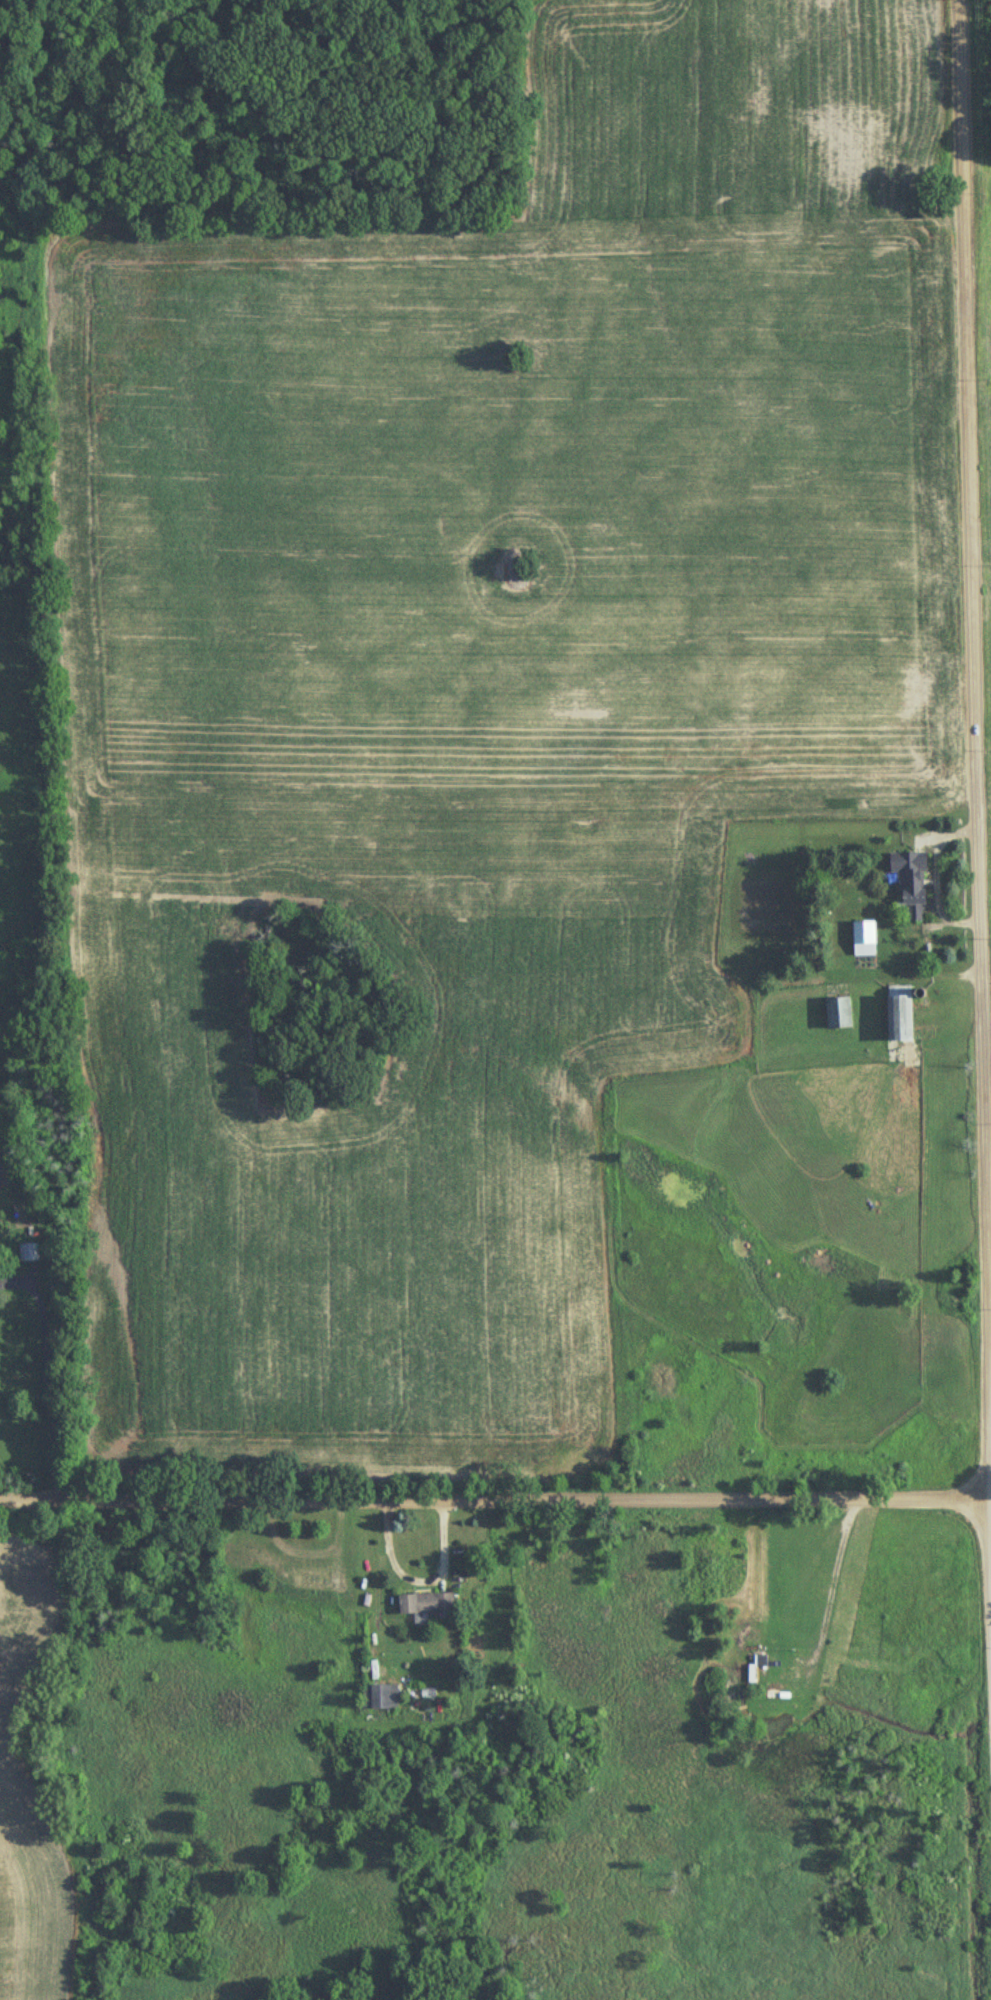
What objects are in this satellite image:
road: (972, 746)
road: (939, 871)
building: (909, 879)
building: (862, 940)
building: (836, 1015)
building: (897, 1016)
building: (29, 1252)
road: (49, 1382)
road: (495, 1495)
road: (420, 1579)
building: (316, 1580)
building: (425, 1603)
building: (379, 1697)

